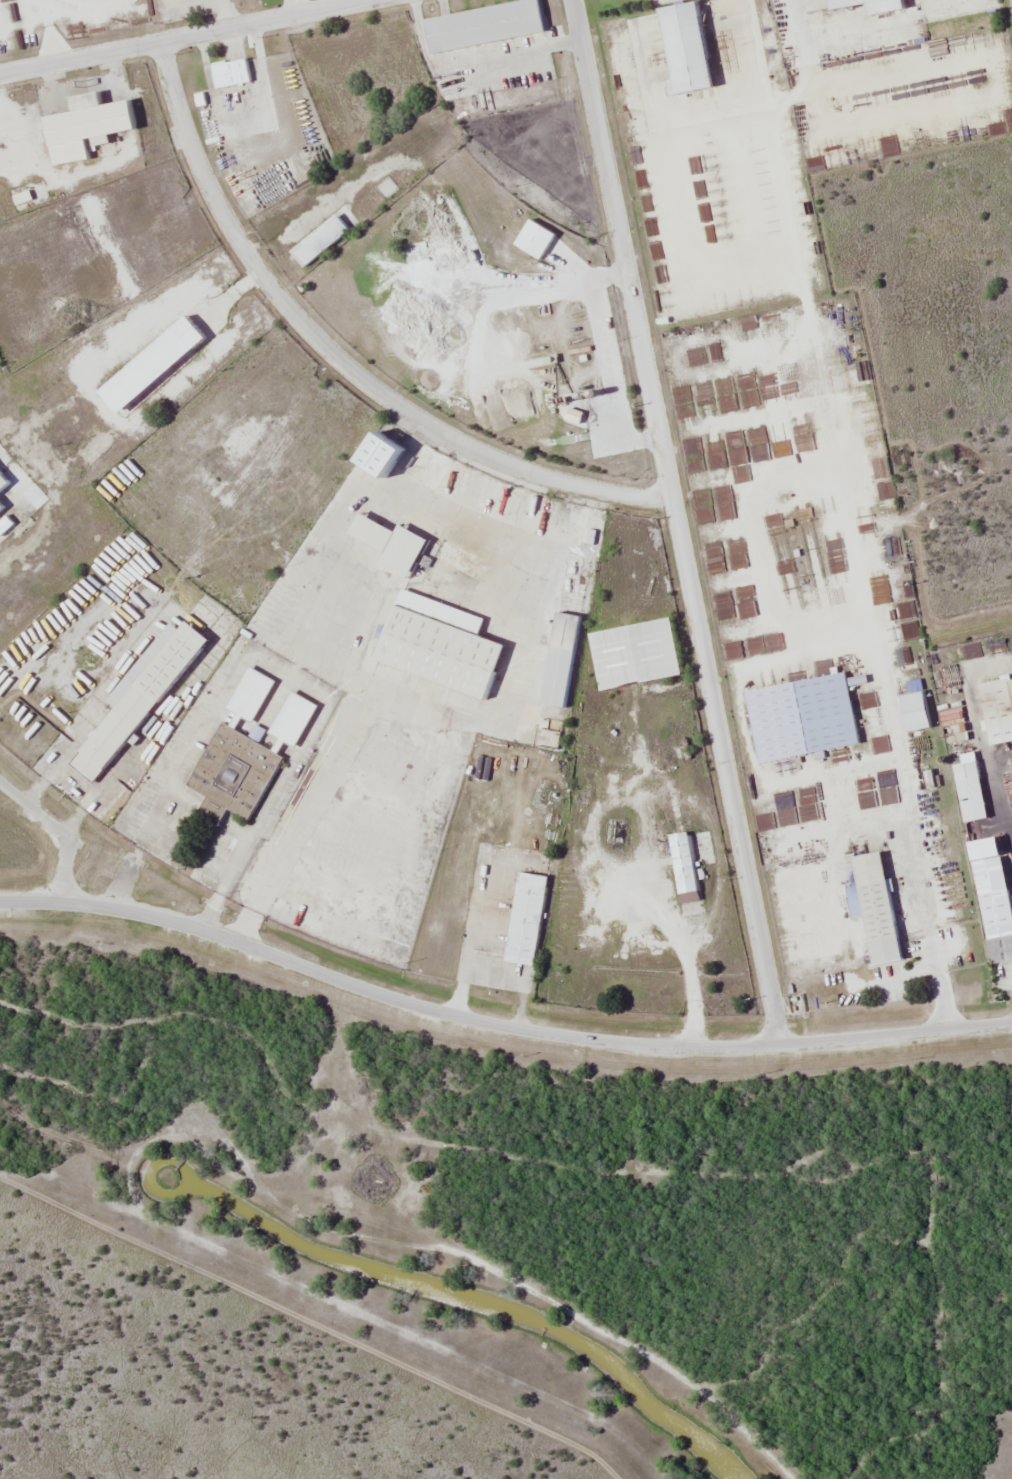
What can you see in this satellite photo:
building: (865, 0)
building: (490, 24)
road: (182, 36)
building: (234, 72)
building: (93, 125)
road: (336, 359)
building: (834, 374)
building: (397, 454)
building: (4, 488)
road: (675, 523)
building: (398, 543)
building: (448, 645)
building: (632, 653)
building: (557, 660)
building: (144, 697)
building: (1000, 713)
building: (799, 716)
road: (977, 731)
building: (249, 751)
building: (966, 791)
road: (52, 834)
building: (679, 862)
building: (991, 900)
building: (871, 907)
building: (522, 918)
road: (498, 1023)

